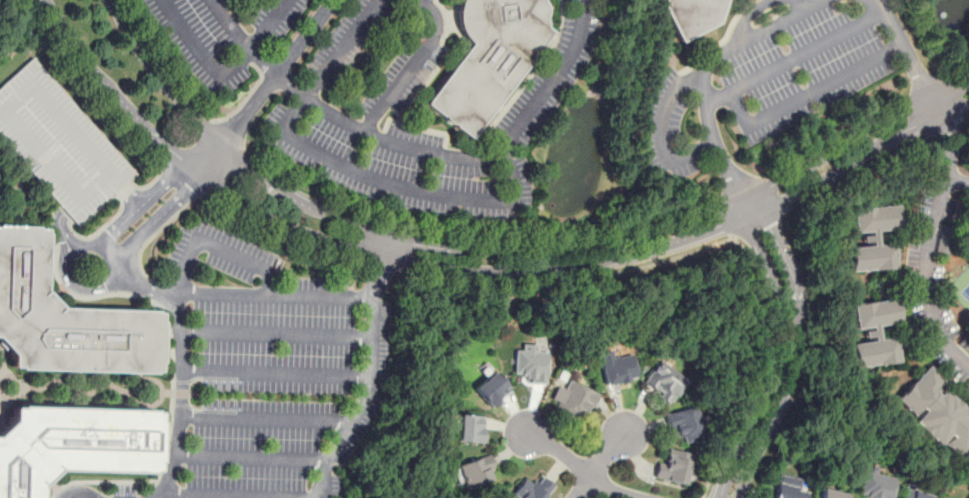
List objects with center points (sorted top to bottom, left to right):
road: (809, 2)
building: (690, 15)
road: (748, 16)
road: (274, 27)
road: (243, 42)
road: (907, 48)
road: (344, 50)
road: (797, 57)
road: (203, 58)
building: (487, 58)
road: (413, 67)
road: (704, 70)
road: (89, 87)
road: (270, 89)
road: (808, 93)
road: (962, 116)
road: (945, 127)
road: (662, 129)
road: (855, 139)
building: (60, 142)
parking garage: (60, 142)
road: (857, 160)
road: (470, 161)
road: (859, 172)
road: (180, 176)
road: (957, 181)
road: (400, 190)
road: (130, 195)
road: (136, 205)
road: (752, 205)
road: (744, 209)
road: (156, 218)
road: (758, 224)
road: (60, 231)
road: (280, 233)
road: (381, 233)
building: (872, 237)
road: (929, 237)
building: (944, 239)
road: (146, 241)
road: (351, 245)
road: (217, 246)
road: (382, 265)
road: (378, 275)
road: (69, 276)
road: (567, 278)
road: (136, 280)
road: (794, 280)
road: (270, 296)
building: (63, 319)
building: (873, 332)
road: (276, 333)
building: (964, 343)
road: (776, 360)
building: (529, 363)
road: (761, 367)
building: (616, 368)
road: (275, 373)
building: (663, 381)
building: (490, 388)
road: (181, 398)
building: (573, 400)
road: (361, 403)
building: (935, 411)
road: (268, 418)
building: (685, 423)
road: (769, 426)
building: (470, 428)
building: (71, 444)
road: (605, 454)
road: (251, 458)
road: (579, 466)
building: (676, 467)
building: (475, 471)
building: (875, 485)
road: (580, 486)
building: (786, 487)
building: (532, 488)
road: (77, 492)
road: (240, 493)
building: (830, 493)
building: (915, 494)

